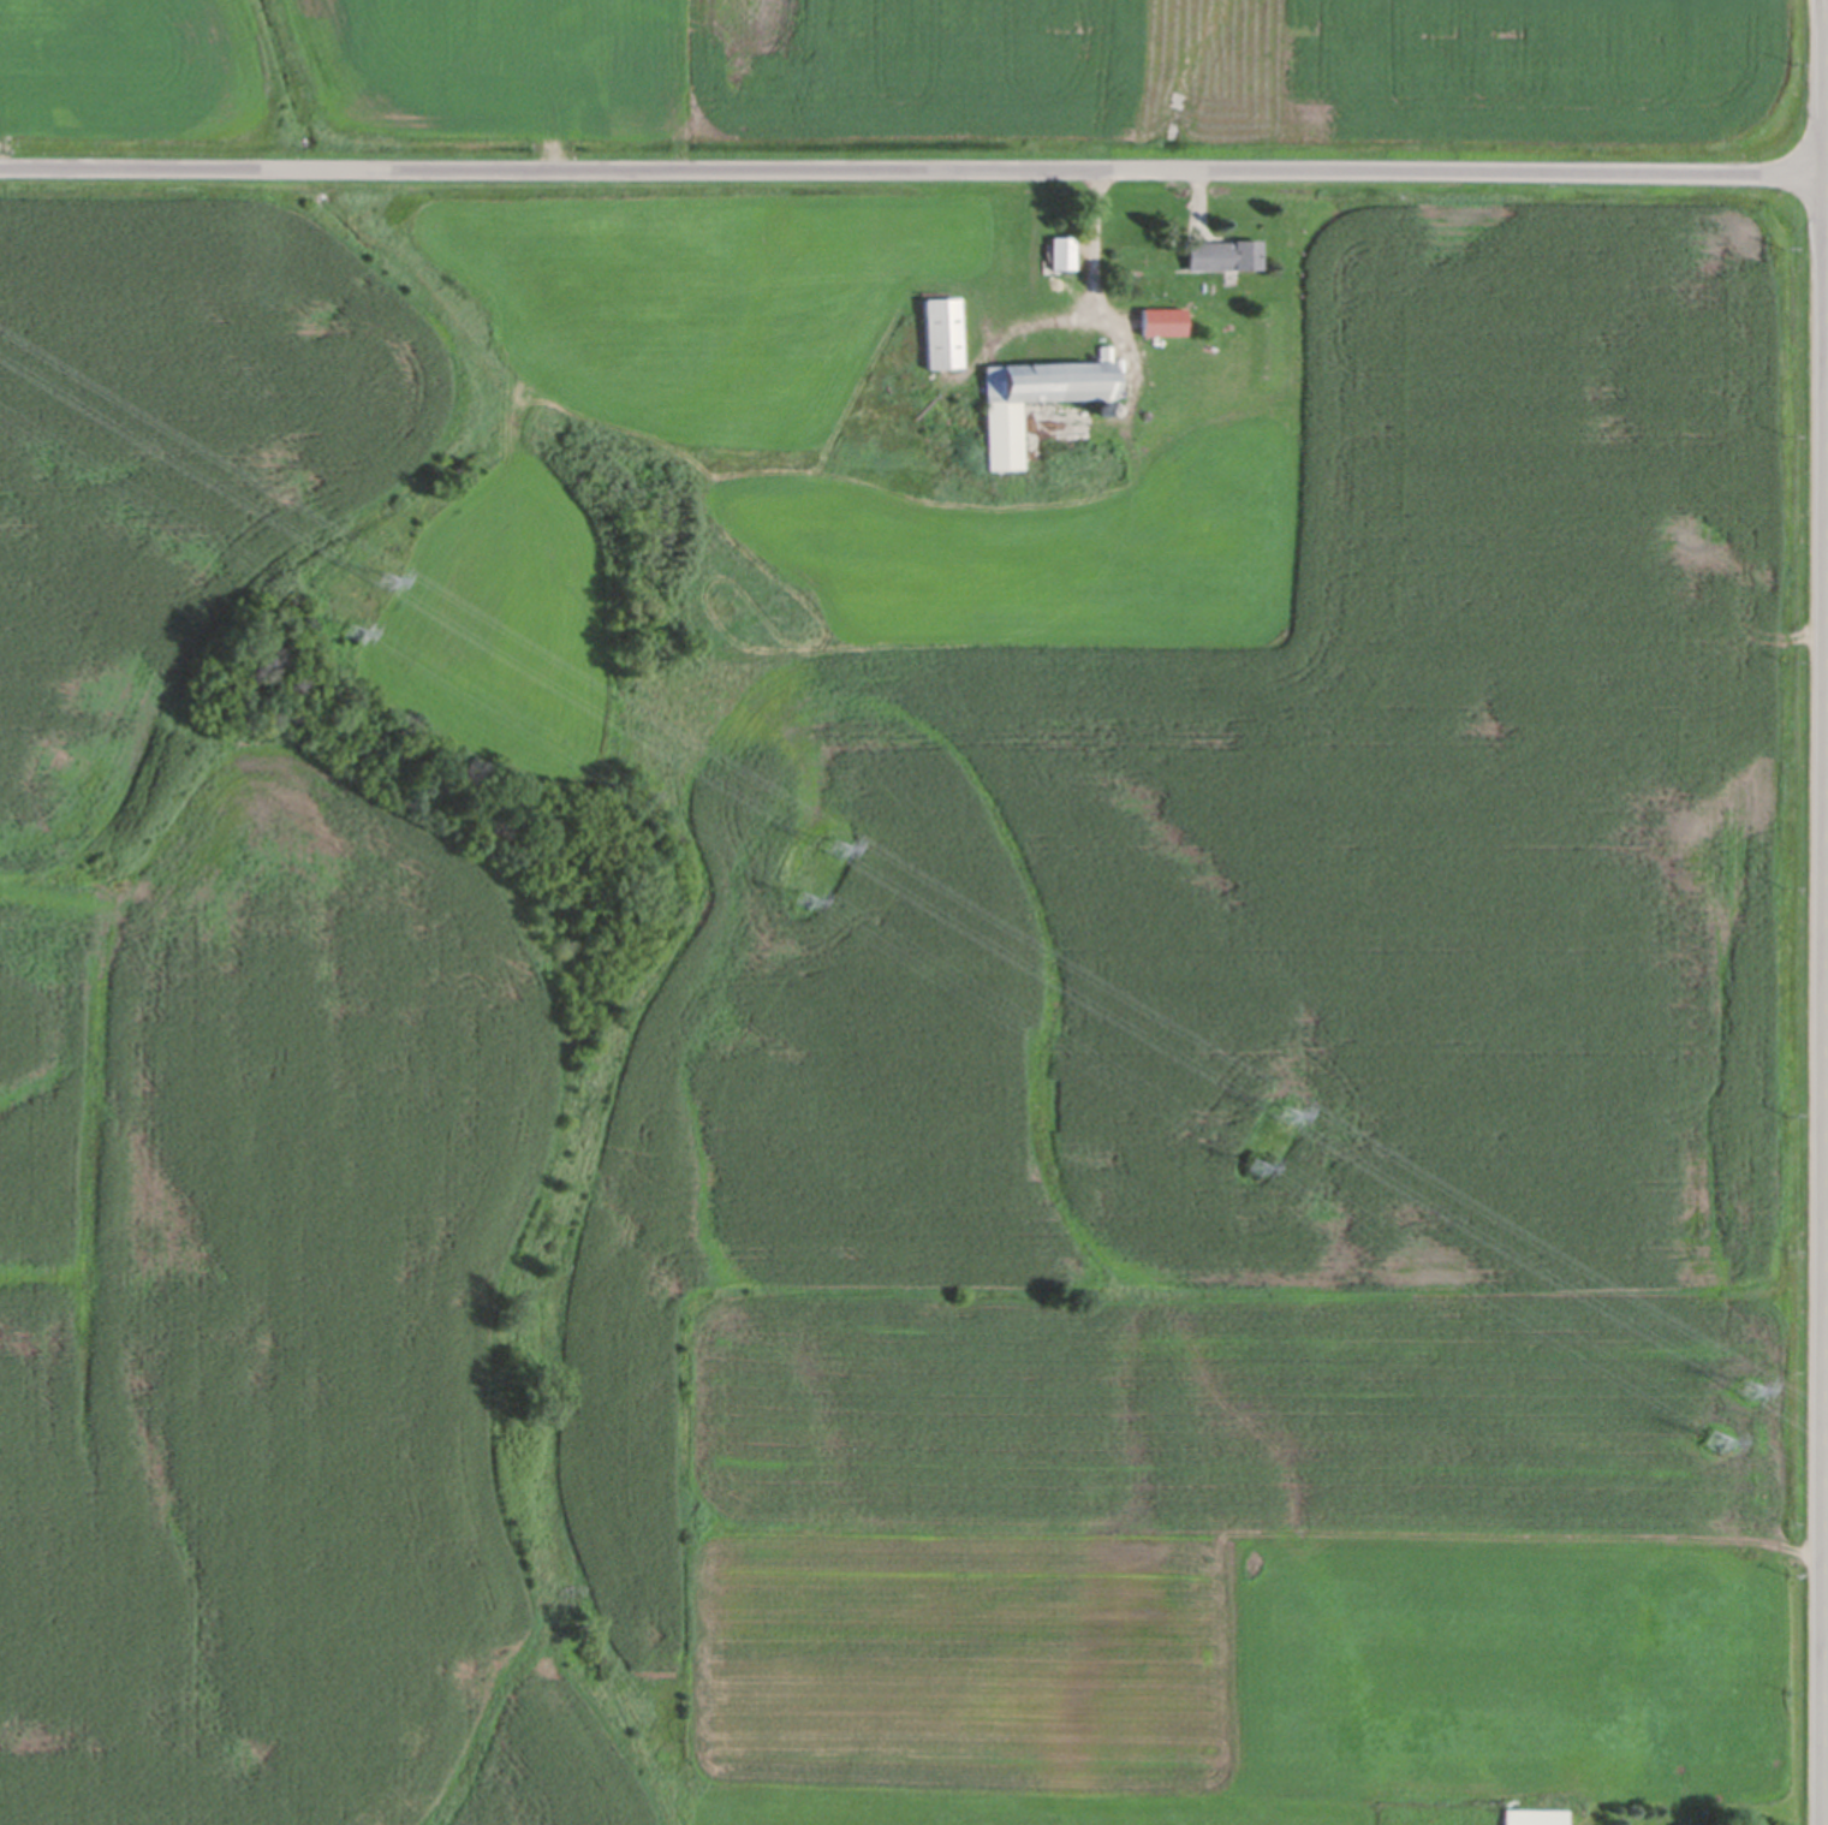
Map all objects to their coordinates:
road: (913, 173)
building: (1061, 248)
building: (1222, 250)
building: (1161, 316)
building: (941, 328)
building: (1034, 392)
building: (1104, 408)
power tower: (380, 583)
power tower: (345, 634)
power tower: (827, 850)
power tower: (798, 900)
road: (1826, 911)
power tower: (1278, 1118)
power tower: (1245, 1167)
road: (1827, 1297)
power tower: (1740, 1390)
power tower: (1710, 1443)
building: (1534, 1817)

